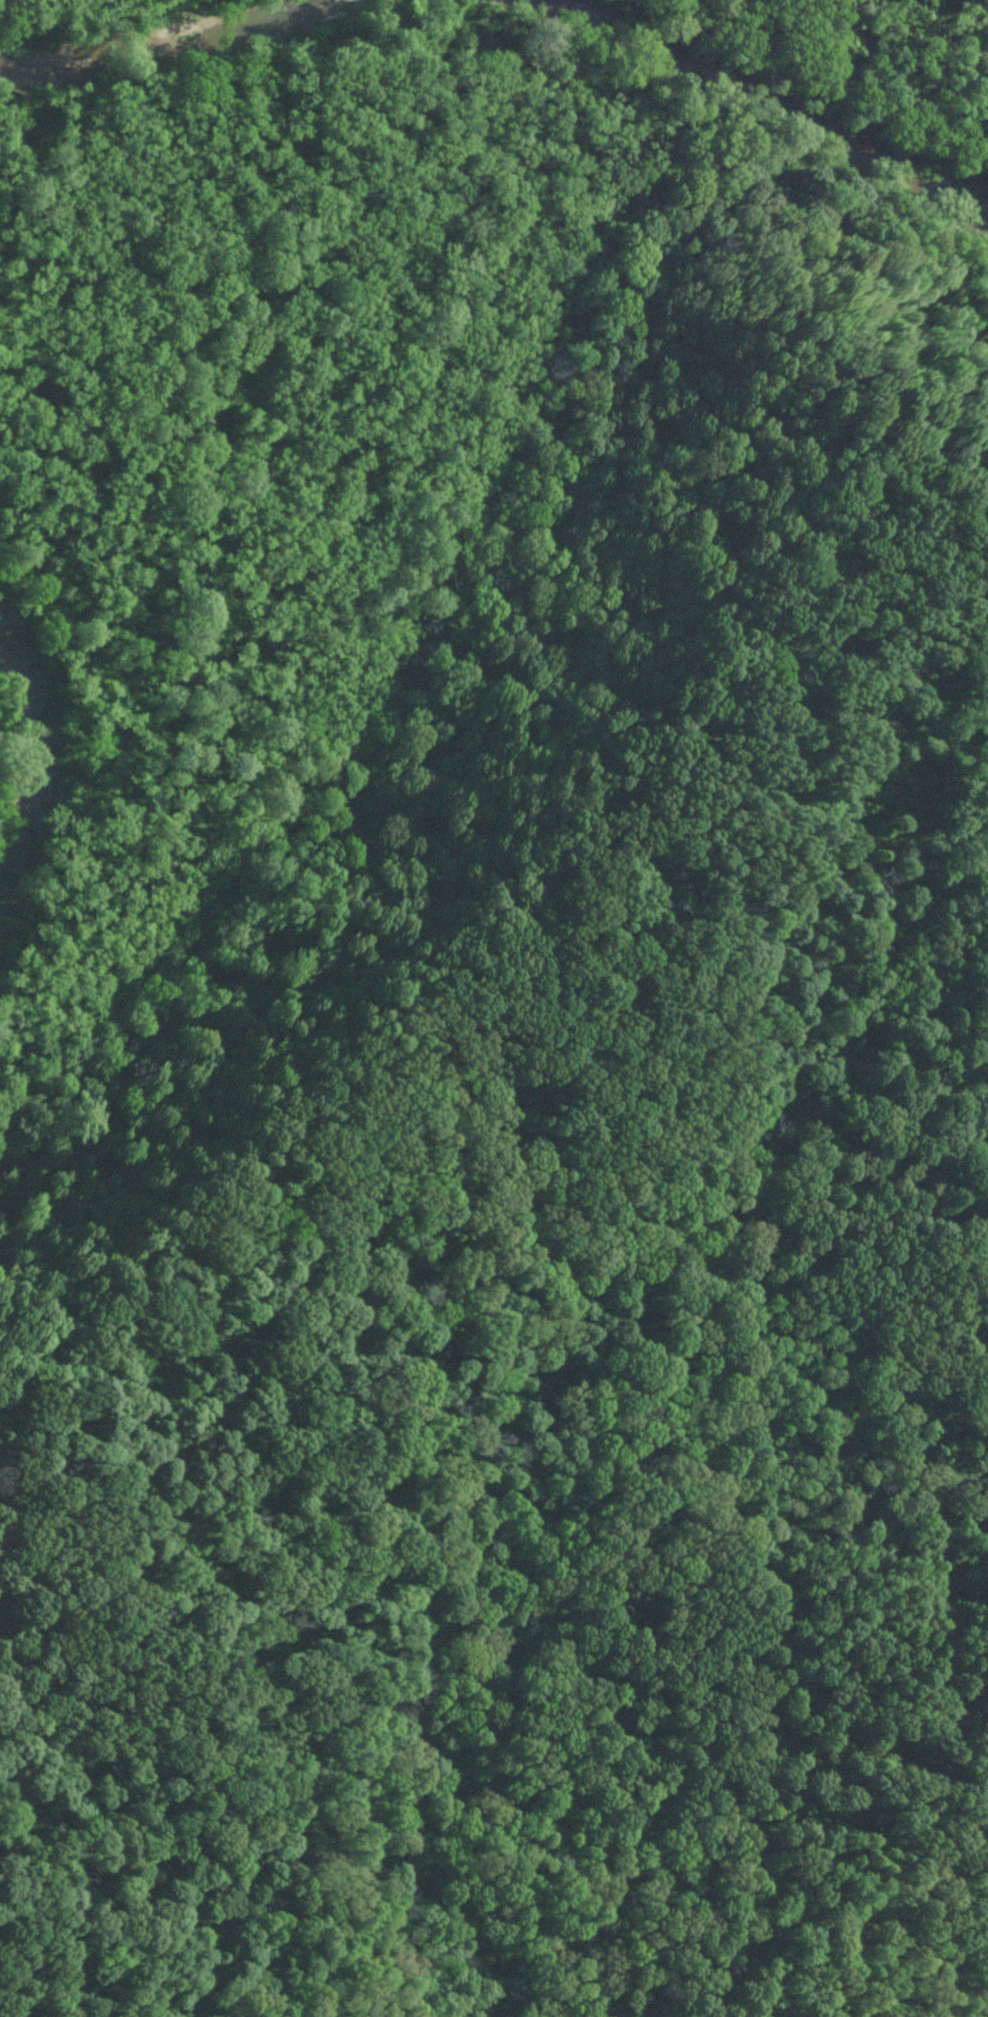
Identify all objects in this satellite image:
river: (159, 44)
road: (819, 82)
river: (768, 96)
river: (53, 746)
road: (348, 1049)

